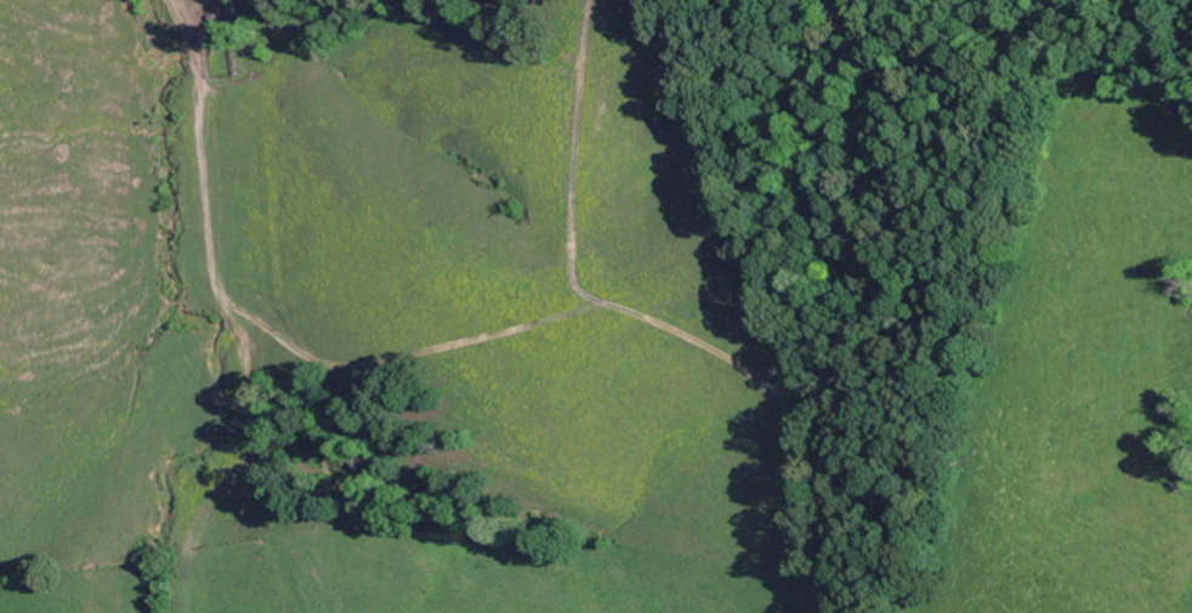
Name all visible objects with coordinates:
road: (852, 306)

